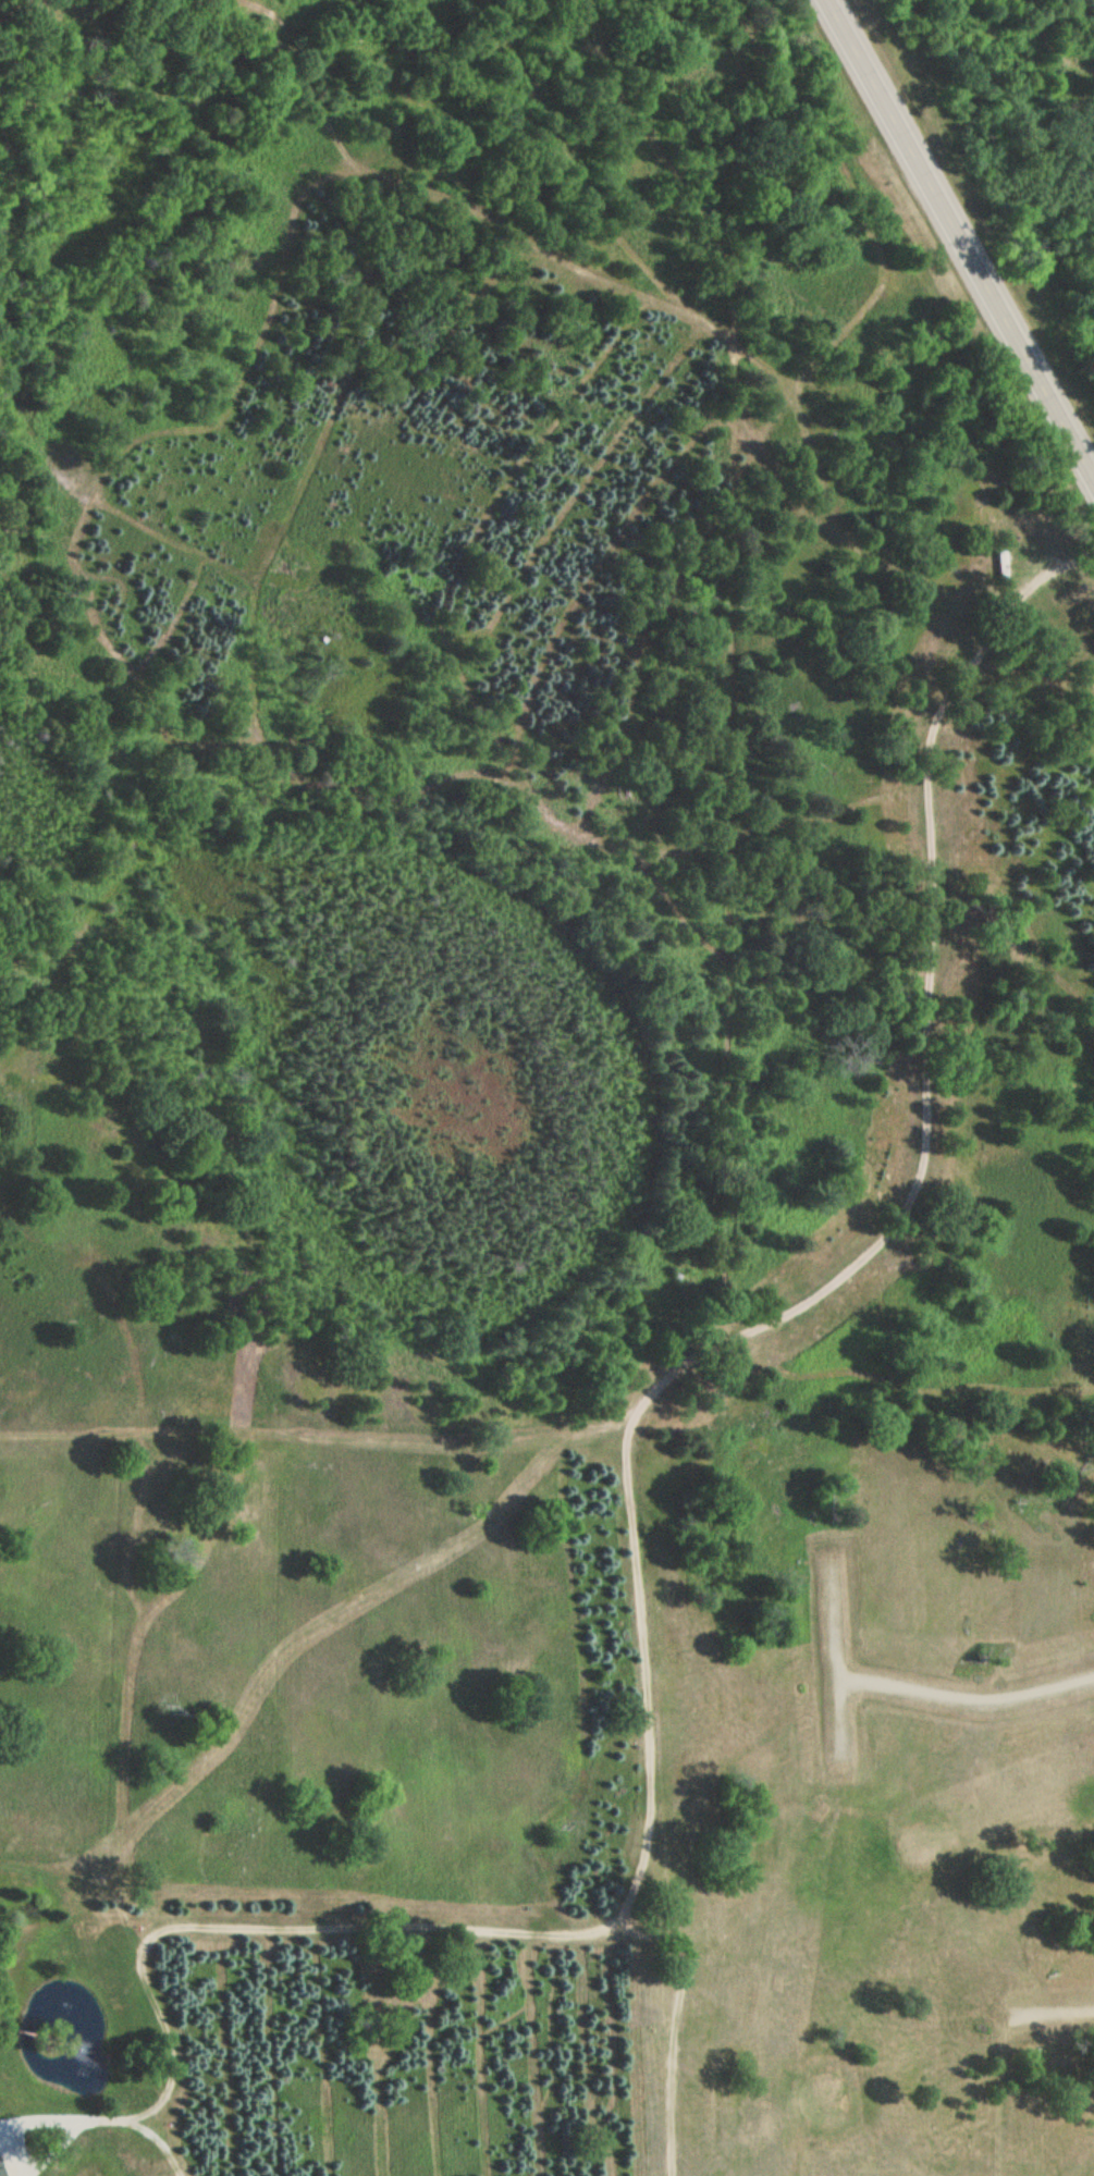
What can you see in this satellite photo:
road: (961, 237)
road: (629, 1493)
road: (912, 1689)
road: (839, 1720)
park: (881, 1969)
road: (1053, 2014)
road: (671, 2081)
road: (155, 2146)
building: (1, 2168)

